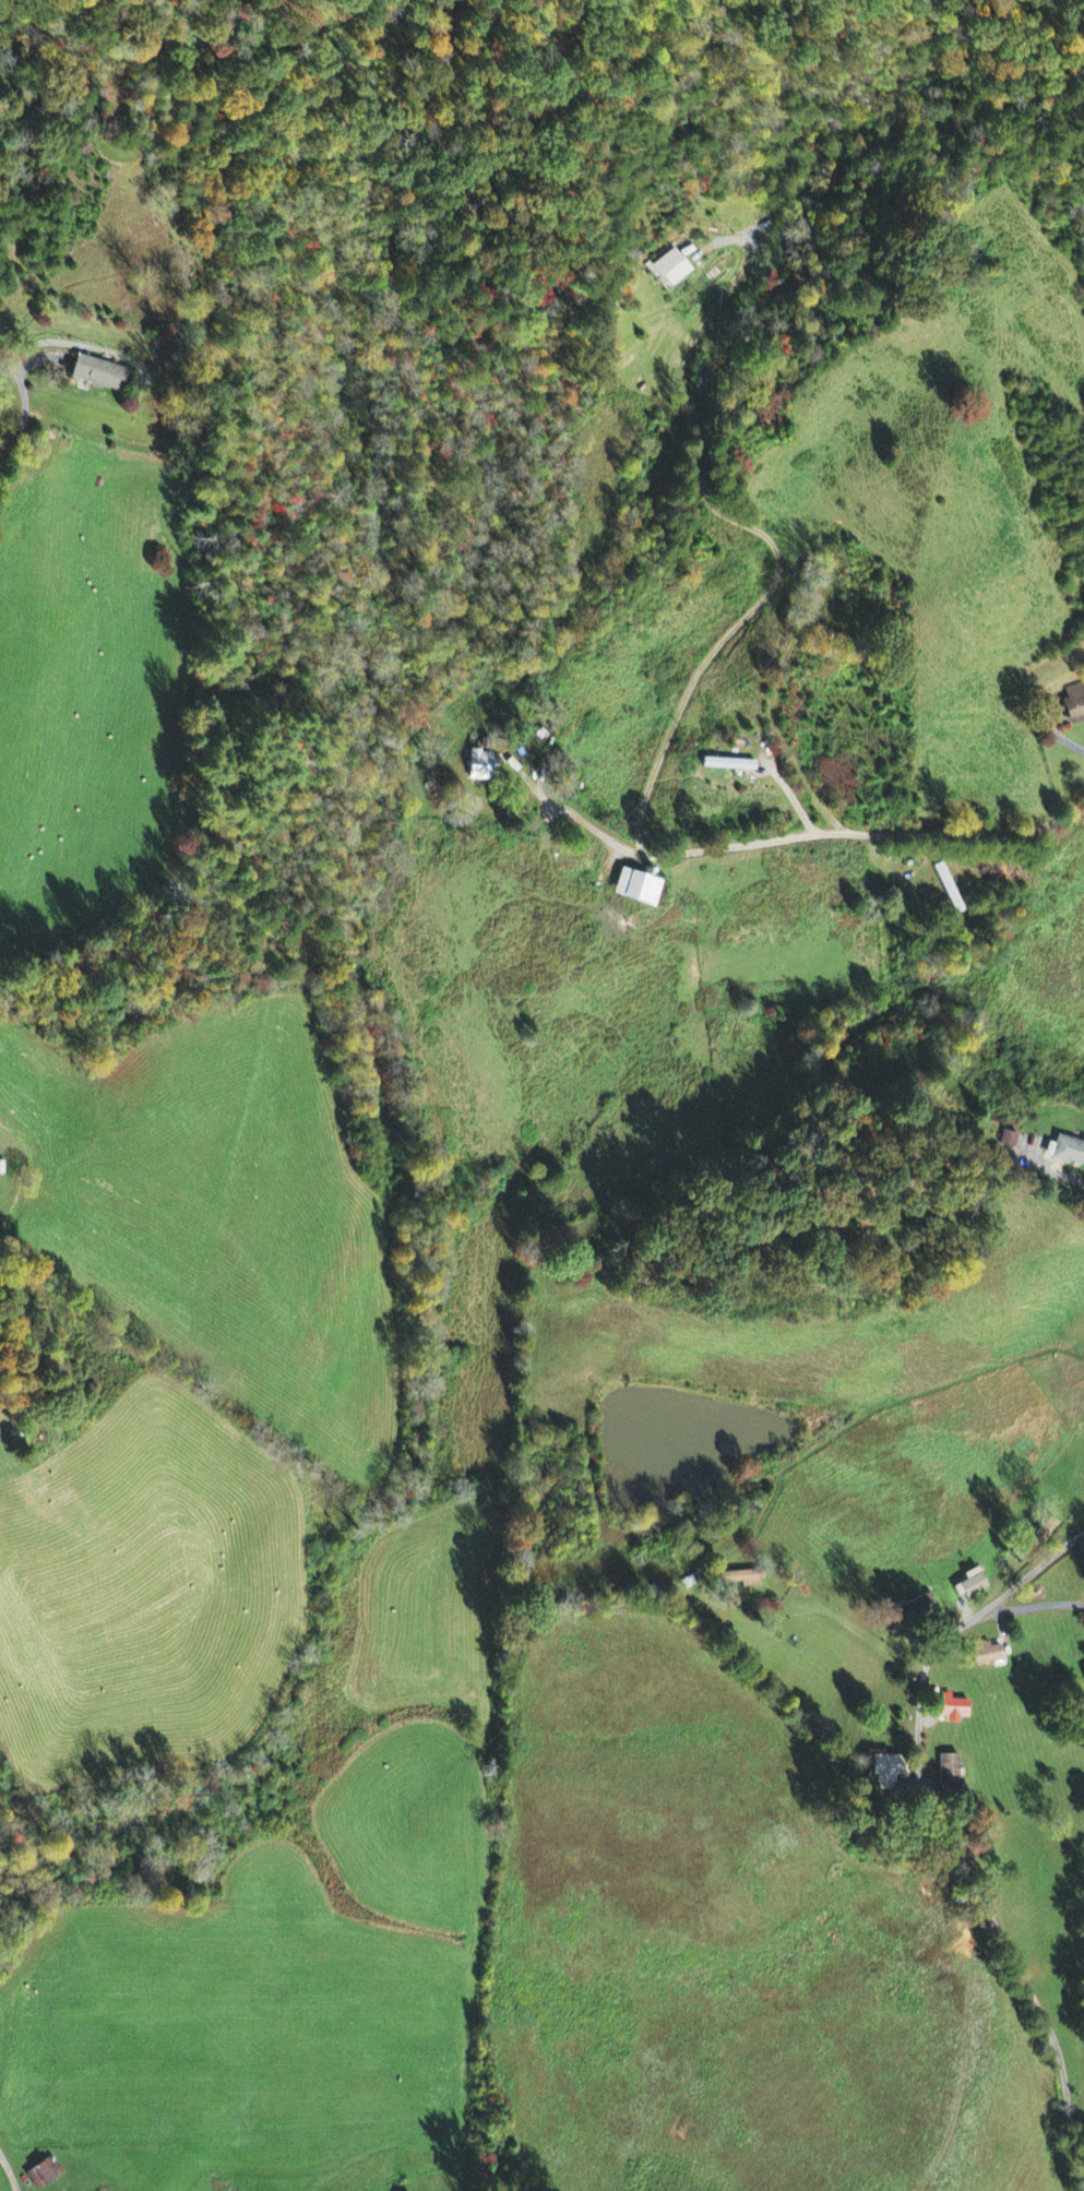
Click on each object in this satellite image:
building: (668, 270)
building: (100, 377)
road: (45, 397)
building: (1073, 704)
road: (675, 727)
building: (727, 765)
building: (478, 766)
building: (634, 889)
road: (207, 942)
building: (1067, 1153)
building: (1036, 1538)
road: (1081, 1551)
building: (741, 1580)
building: (970, 1585)
road: (1033, 1607)
building: (910, 1611)
building: (986, 1655)
building: (952, 1710)
building: (886, 1767)
building: (948, 1771)
road: (941, 1825)

